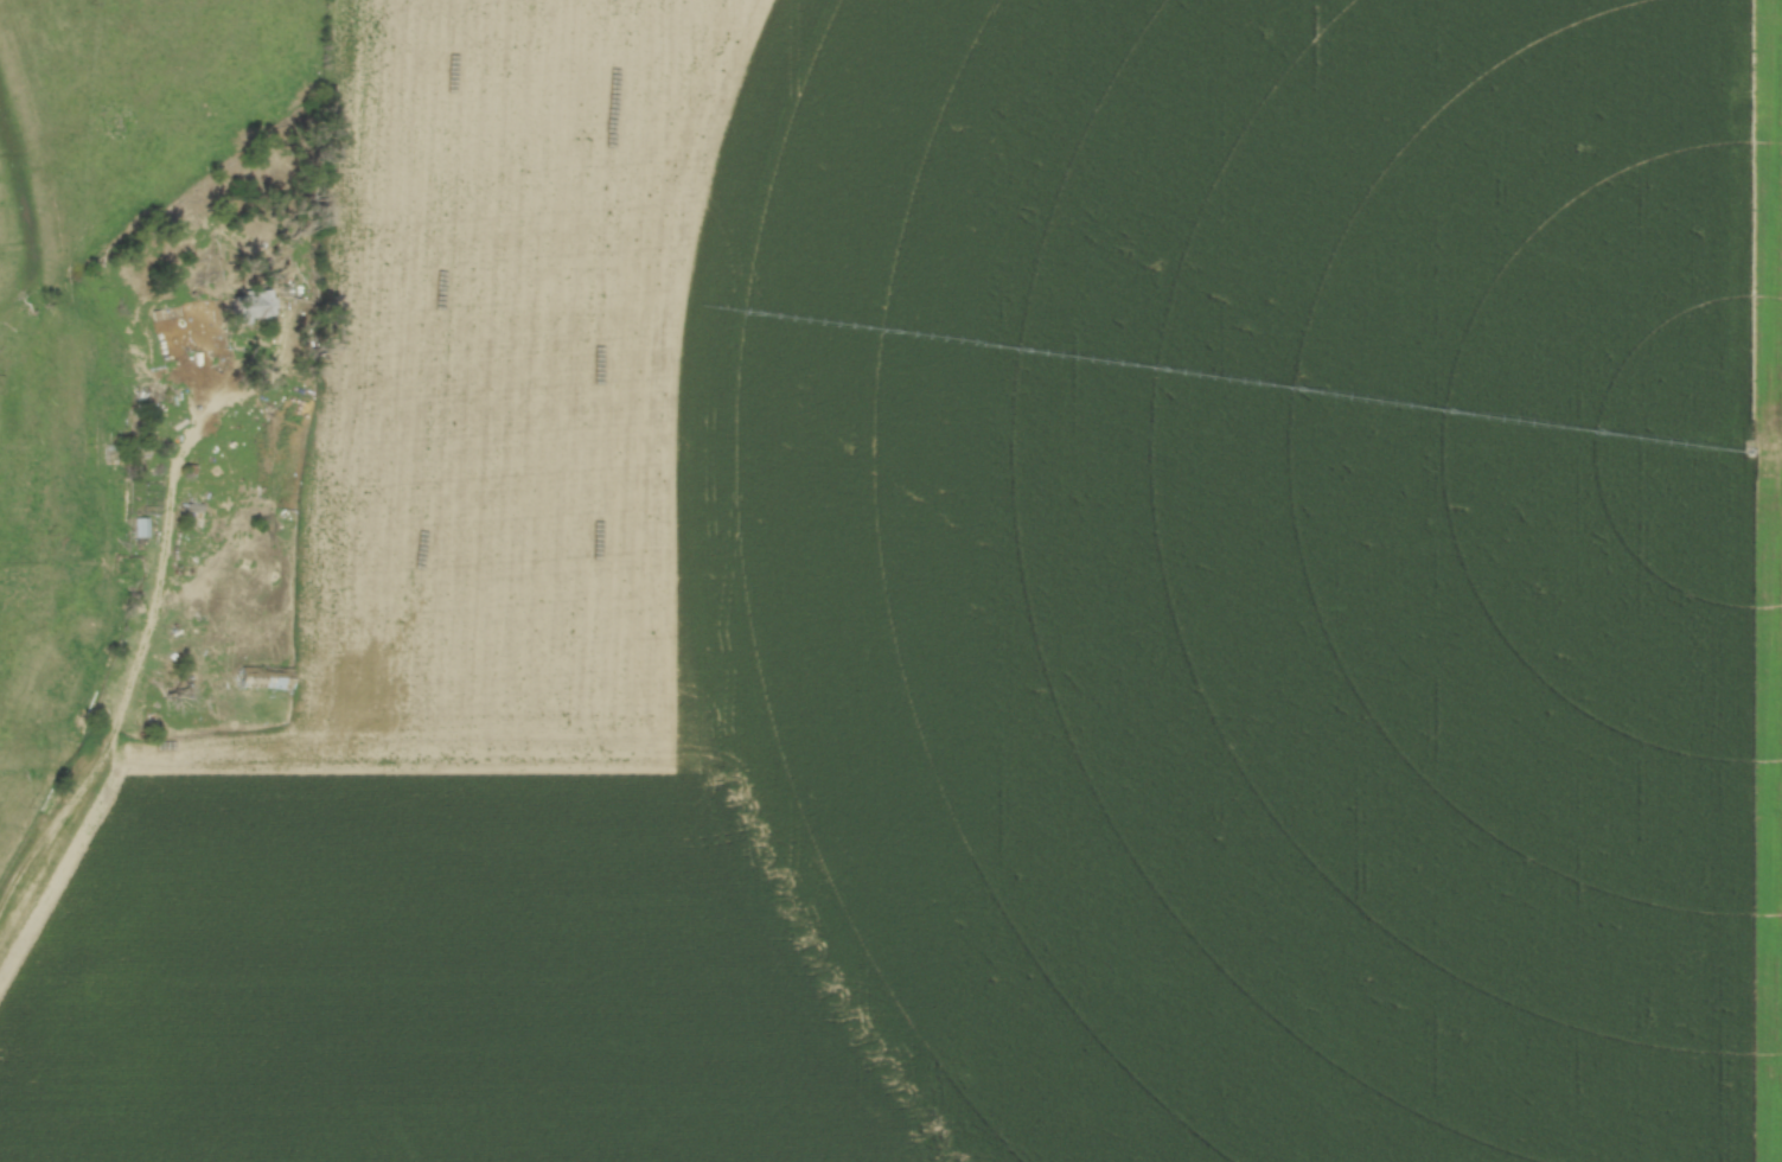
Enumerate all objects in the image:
building: (255, 307)
building: (142, 528)
road: (135, 675)
building: (266, 677)

